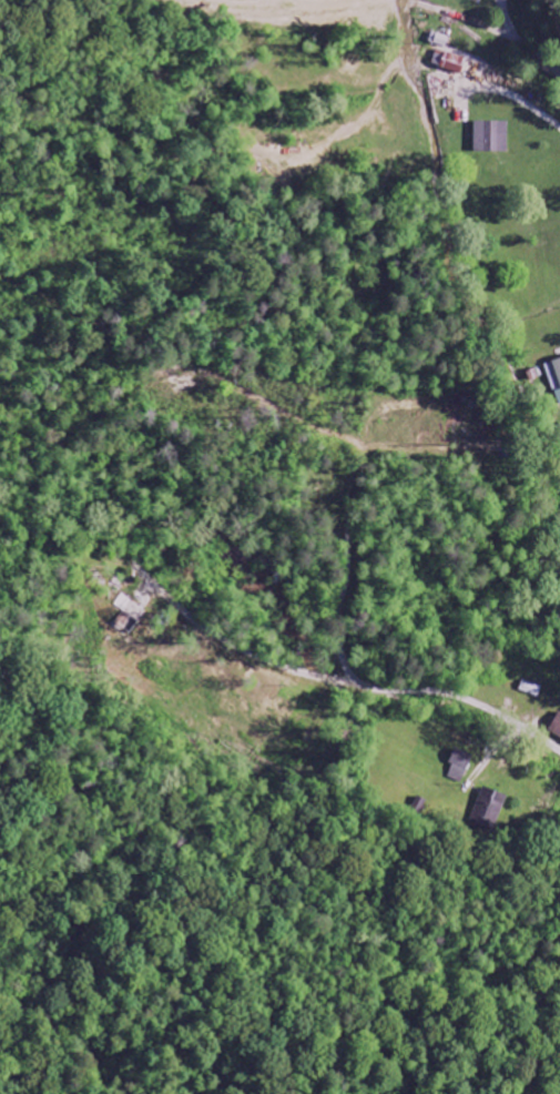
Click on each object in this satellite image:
building: (480, 0)
road: (559, 3)
building: (440, 40)
building: (450, 62)
building: (492, 138)
building: (554, 378)
building: (557, 728)
road: (543, 741)
building: (460, 767)
building: (491, 800)

